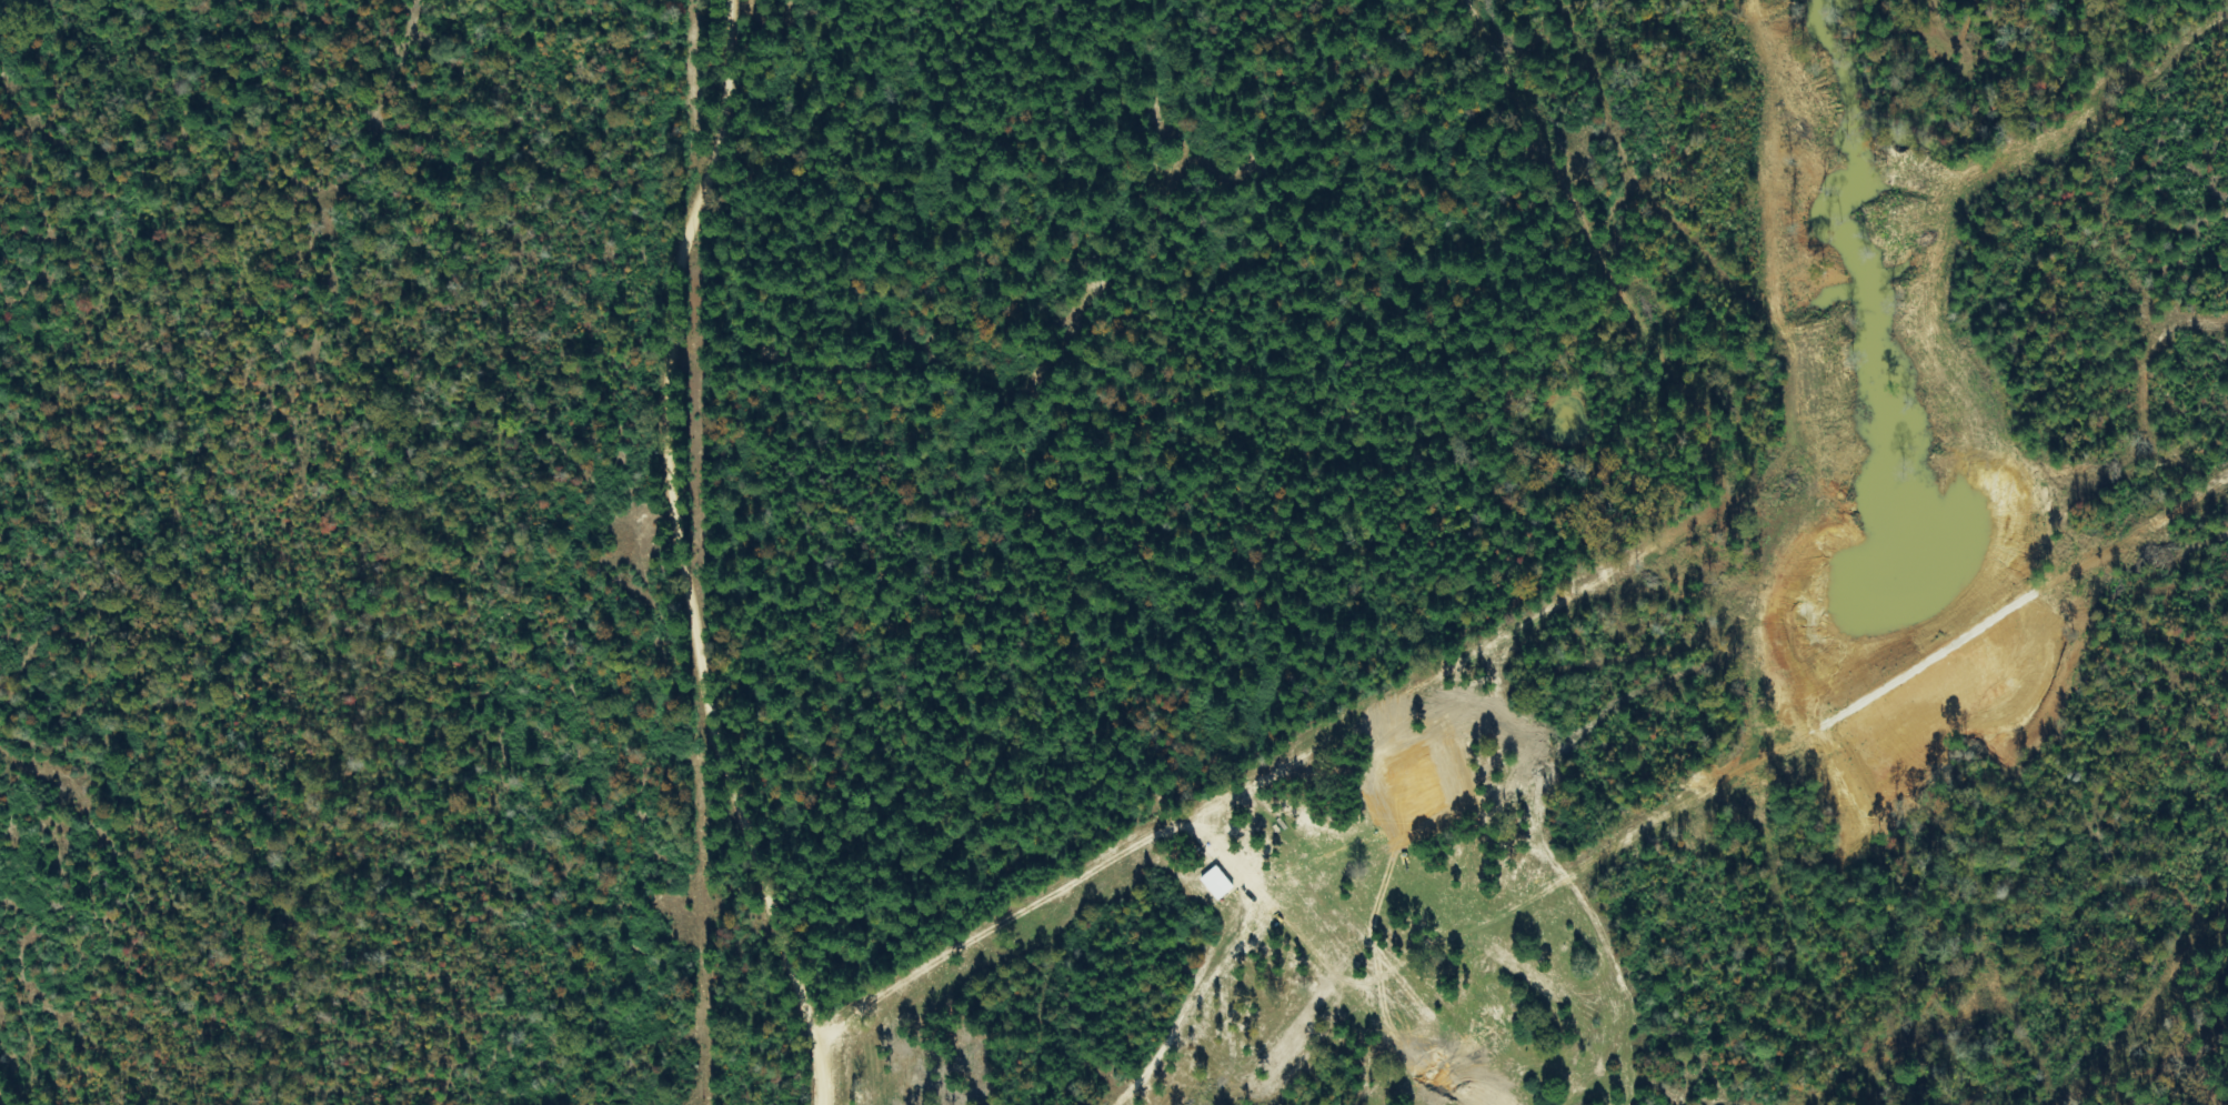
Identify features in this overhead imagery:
road: (663, 562)

